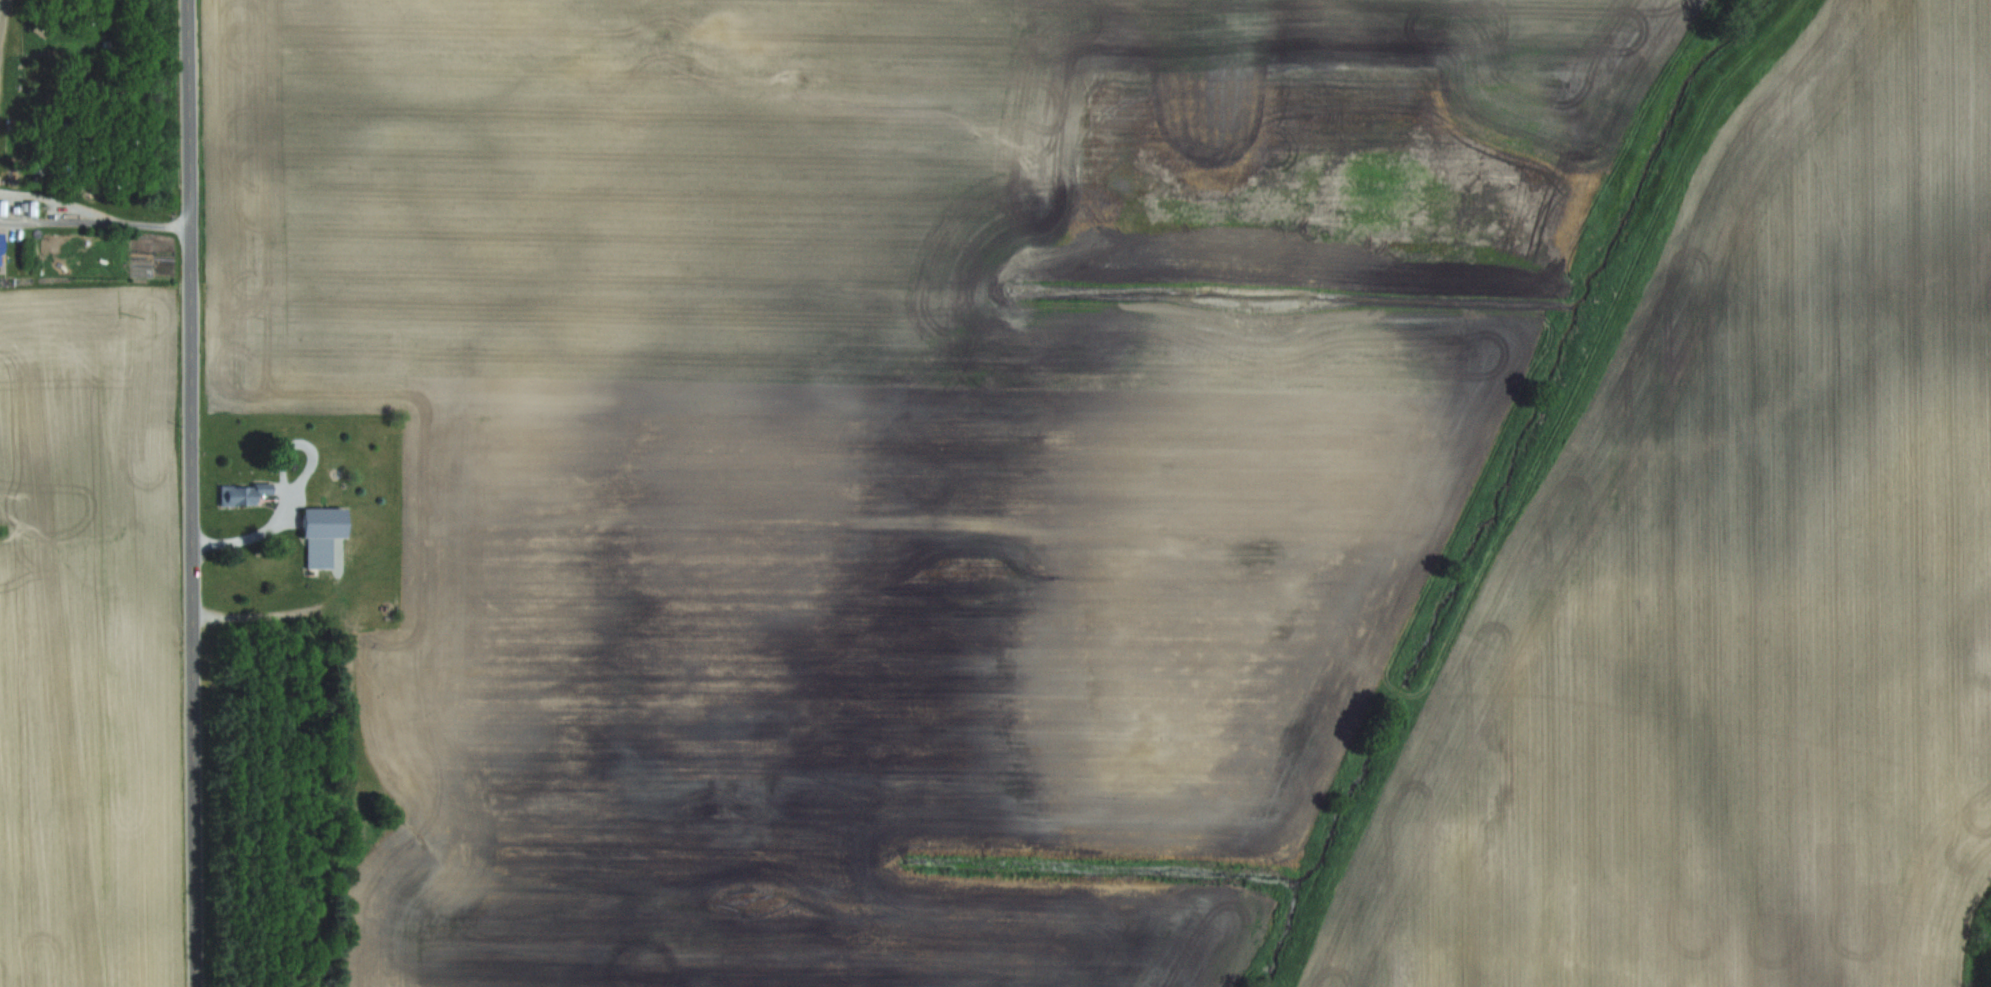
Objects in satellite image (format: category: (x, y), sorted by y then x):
building: (0, 234)
road: (191, 493)
building: (239, 493)
building: (318, 533)

